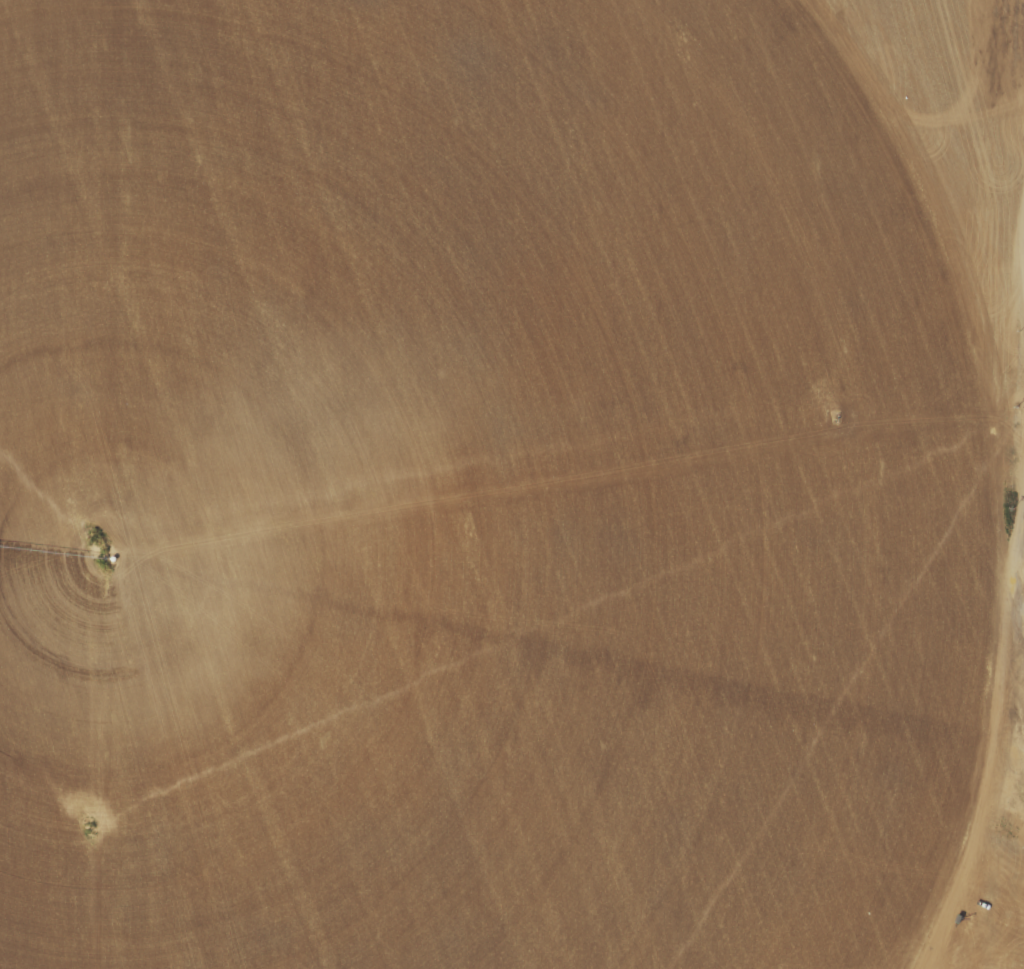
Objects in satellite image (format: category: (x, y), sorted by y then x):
road: (994, 771)

